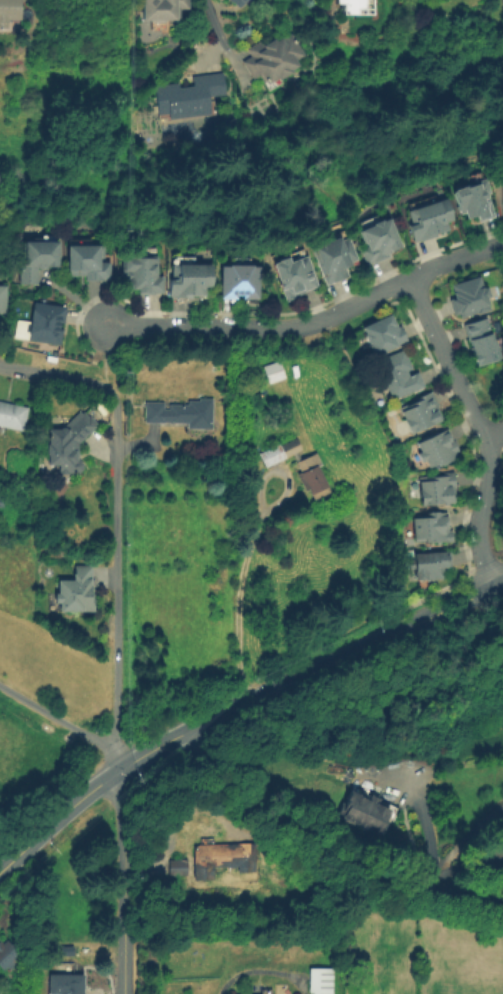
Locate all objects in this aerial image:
building: (237, 2)
building: (354, 6)
building: (162, 9)
building: (9, 12)
road: (218, 29)
building: (273, 58)
building: (188, 96)
building: (475, 198)
building: (430, 215)
building: (378, 241)
building: (336, 254)
building: (35, 255)
road: (456, 259)
building: (85, 260)
building: (140, 270)
building: (294, 272)
building: (240, 279)
building: (189, 280)
building: (470, 295)
building: (2, 300)
building: (45, 322)
road: (263, 326)
building: (383, 332)
building: (483, 339)
road: (104, 357)
road: (448, 360)
building: (275, 374)
building: (398, 374)
road: (57, 377)
building: (420, 411)
building: (183, 415)
building: (13, 416)
road: (494, 436)
building: (69, 443)
building: (437, 448)
building: (298, 466)
building: (437, 488)
building: (0, 497)
road: (479, 514)
building: (432, 528)
building: (432, 563)
road: (117, 582)
building: (79, 590)
road: (237, 600)
road: (447, 607)
road: (381, 638)
road: (242, 702)
road: (64, 722)
building: (364, 810)
road: (56, 815)
building: (499, 822)
road: (327, 847)
road: (7, 849)
building: (266, 853)
building: (222, 858)
building: (177, 867)
road: (121, 881)
building: (8, 955)
building: (321, 980)
building: (66, 985)

